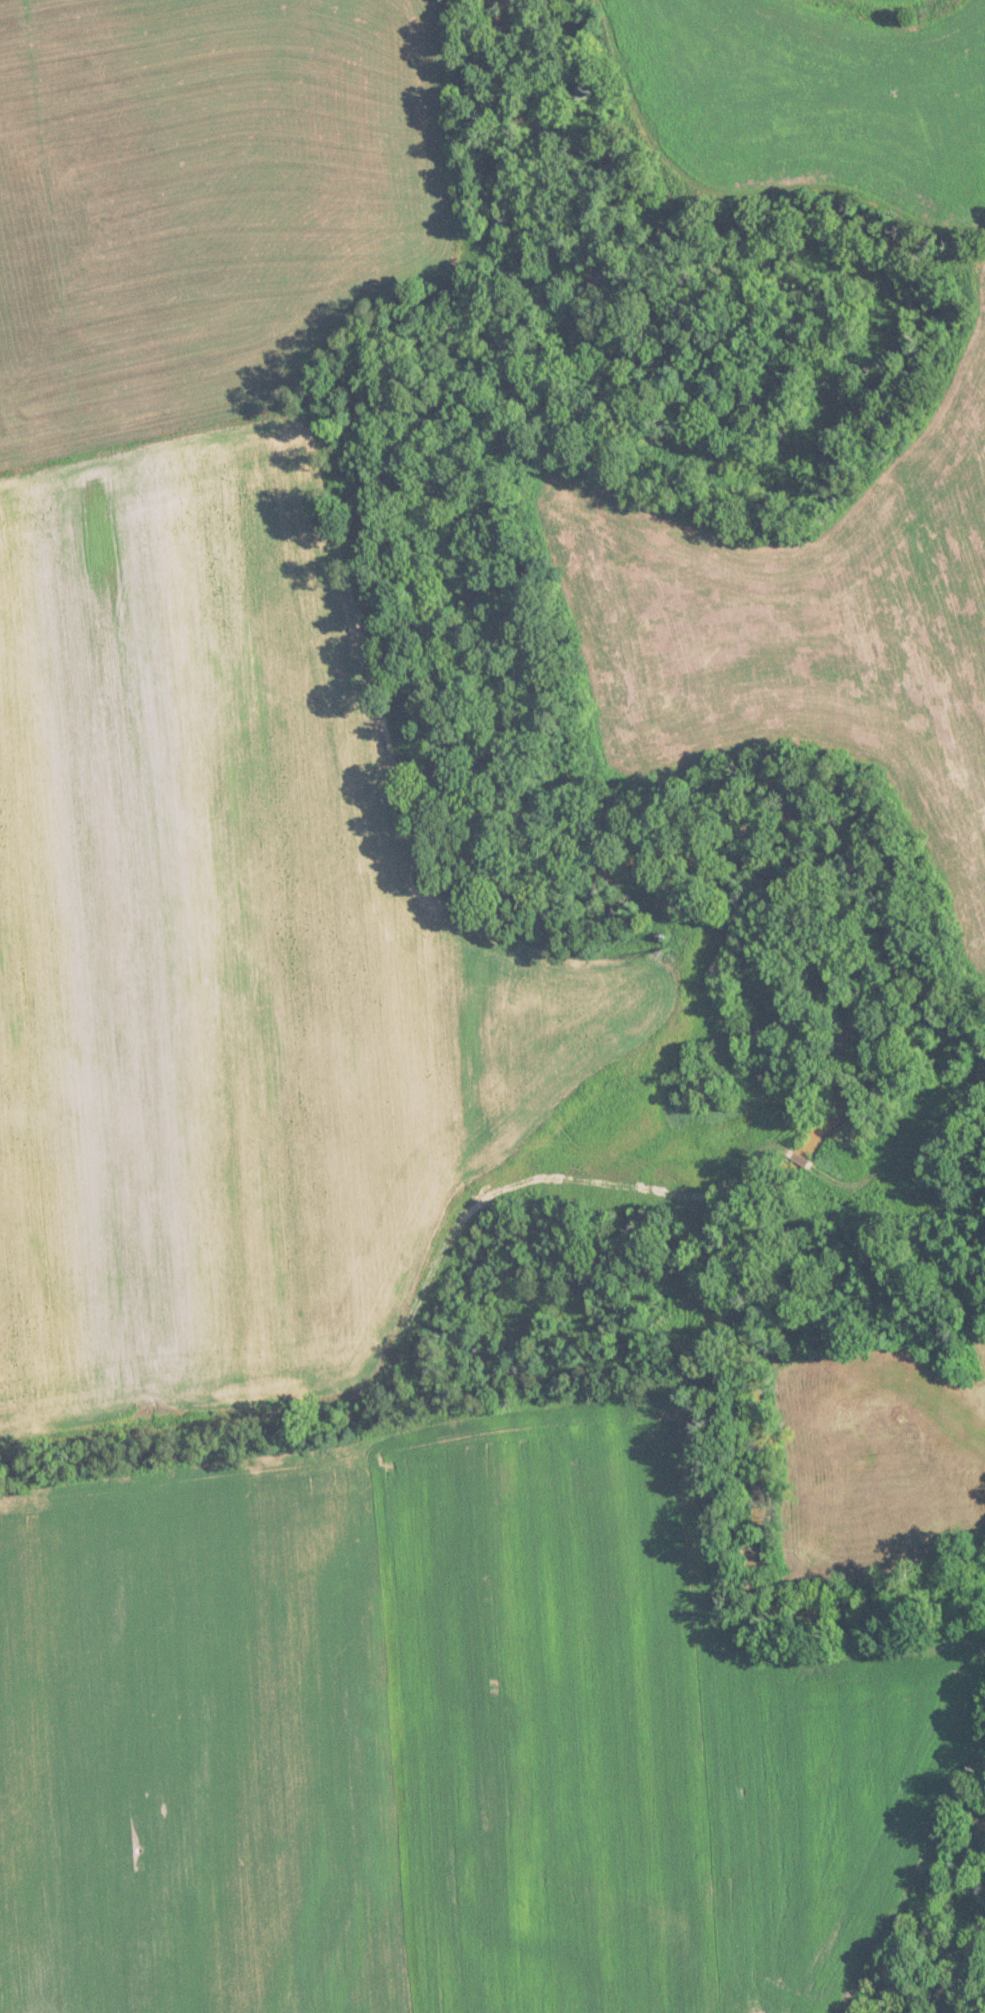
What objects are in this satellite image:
road: (978, 618)
road: (480, 1212)

